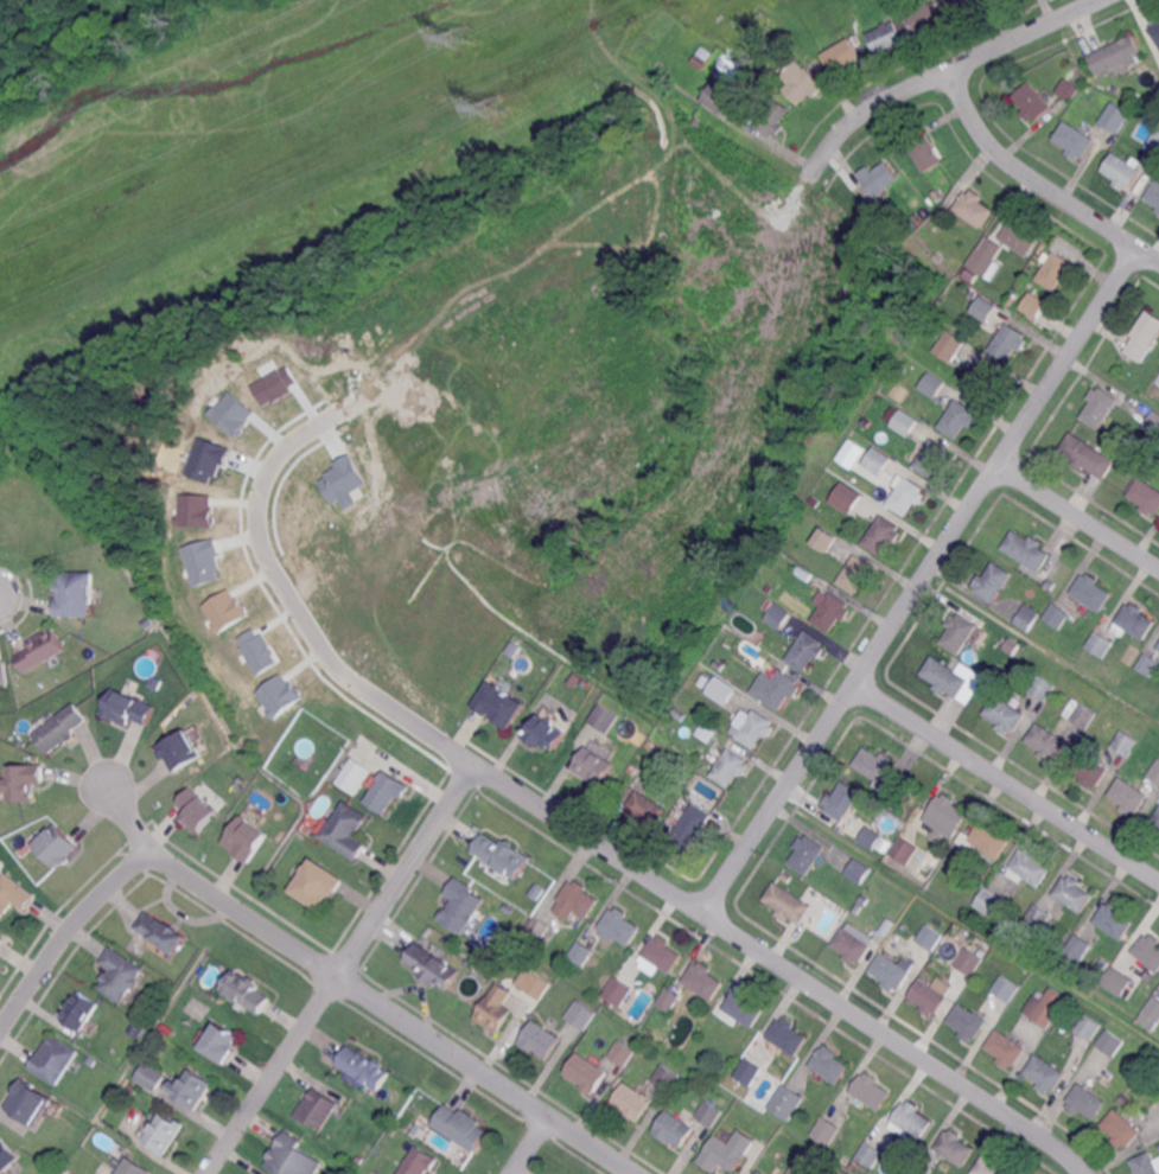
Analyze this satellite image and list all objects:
building: (973, 5)
building: (929, 17)
building: (1155, 31)
power tower: (460, 36)
building: (891, 36)
building: (757, 38)
building: (858, 39)
building: (843, 55)
building: (1154, 55)
building: (1115, 56)
building: (668, 64)
building: (764, 70)
road: (938, 75)
building: (803, 83)
building: (1069, 89)
building: (1088, 89)
building: (719, 97)
building: (1033, 102)
power tower: (495, 106)
building: (773, 117)
building: (1116, 117)
building: (1075, 140)
building: (1153, 145)
building: (925, 153)
building: (1121, 170)
building: (880, 179)
road: (1037, 180)
building: (1153, 192)
building: (937, 194)
building: (974, 208)
building: (1158, 210)
building: (917, 219)
building: (932, 231)
building: (1019, 236)
building: (937, 257)
building: (983, 267)
building: (1055, 269)
building: (1013, 299)
building: (1032, 304)
building: (985, 307)
building: (931, 321)
building: (1145, 339)
building: (1010, 342)
building: (951, 345)
building: (905, 359)
building: (985, 379)
building: (1158, 379)
building: (273, 384)
building: (932, 384)
building: (1100, 407)
building: (230, 411)
building: (959, 419)
building: (903, 421)
building: (867, 422)
building: (1153, 423)
building: (852, 449)
building: (1088, 454)
building: (204, 457)
building: (934, 458)
building: (1144, 458)
building: (878, 460)
building: (340, 478)
building: (1146, 496)
building: (848, 497)
building: (908, 497)
building: (816, 500)
building: (192, 509)
road: (1078, 516)
building: (884, 536)
building: (827, 540)
building: (1027, 549)
building: (199, 560)
building: (331, 572)
building: (804, 574)
building: (858, 574)
road: (921, 580)
building: (994, 581)
building: (803, 585)
building: (1051, 586)
building: (770, 589)
building: (1091, 593)
building: (72, 594)
road: (284, 595)
building: (223, 610)
building: (832, 610)
building: (1057, 614)
building: (779, 617)
building: (1027, 617)
building: (142, 621)
building: (1134, 623)
building: (960, 632)
building: (1101, 643)
building: (256, 649)
building: (1158, 649)
building: (807, 650)
building: (40, 651)
building: (967, 661)
building: (1148, 665)
building: (2, 671)
building: (1013, 675)
building: (945, 676)
building: (265, 682)
building: (738, 682)
building: (154, 684)
building: (585, 684)
building: (81, 688)
building: (777, 688)
building: (1043, 688)
building: (722, 689)
building: (276, 695)
building: (501, 706)
building: (127, 708)
building: (1080, 714)
building: (679, 715)
building: (1005, 715)
building: (604, 717)
building: (754, 726)
building: (61, 729)
building: (707, 732)
building: (547, 734)
building: (1046, 741)
building: (1126, 742)
building: (180, 749)
building: (380, 753)
building: (730, 766)
building: (594, 767)
building: (1089, 768)
building: (635, 770)
building: (1155, 771)
building: (883, 772)
building: (352, 774)
road: (1006, 781)
building: (23, 783)
building: (389, 793)
building: (1128, 796)
building: (842, 800)
building: (645, 809)
building: (198, 810)
building: (945, 816)
building: (1157, 818)
building: (693, 827)
building: (666, 829)
building: (349, 830)
building: (871, 837)
building: (247, 838)
building: (985, 840)
building: (885, 842)
building: (58, 846)
building: (905, 850)
building: (503, 854)
building: (807, 854)
building: (1030, 868)
building: (859, 870)
building: (787, 876)
building: (317, 882)
building: (982, 883)
building: (1074, 893)
building: (13, 895)
building: (578, 899)
building: (992, 901)
building: (461, 904)
building: (788, 904)
building: (858, 907)
building: (1038, 915)
building: (1114, 920)
building: (619, 926)
building: (539, 927)
road: (66, 932)
building: (165, 933)
building: (929, 938)
building: (1, 942)
building: (854, 943)
building: (1078, 949)
building: (1148, 951)
building: (581, 952)
building: (663, 953)
road: (766, 955)
building: (471, 963)
building: (969, 963)
building: (1103, 963)
building: (433, 964)
road: (344, 971)
building: (489, 971)
building: (892, 972)
building: (1148, 974)
building: (121, 976)
building: (703, 980)
building: (1117, 981)
building: (531, 982)
road: (354, 984)
building: (1006, 988)
building: (618, 991)
building: (247, 993)
building: (931, 995)
building: (669, 998)
building: (190, 1007)
building: (744, 1007)
building: (496, 1008)
building: (1045, 1008)
building: (82, 1010)
building: (1151, 1014)
building: (582, 1015)
building: (968, 1022)
building: (138, 1026)
building: (165, 1027)
building: (1088, 1027)
building: (788, 1035)
building: (541, 1039)
building: (222, 1041)
building: (1110, 1042)
building: (590, 1044)
building: (1006, 1048)
building: (622, 1054)
building: (57, 1059)
building: (93, 1061)
building: (830, 1064)
building: (364, 1066)
building: (749, 1071)
building: (587, 1072)
building: (1045, 1073)
building: (151, 1074)
building: (666, 1076)
building: (193, 1087)
building: (872, 1090)
building: (1125, 1099)
building: (633, 1100)
building: (787, 1100)
building: (1085, 1100)
building: (32, 1103)
building: (317, 1108)
building: (708, 1111)
building: (391, 1116)
building: (911, 1121)
building: (461, 1125)
building: (675, 1128)
building: (1121, 1129)
building: (415, 1130)
building: (164, 1131)
building: (827, 1131)
road: (529, 1144)
building: (1158, 1146)
building: (954, 1149)
building: (728, 1150)
building: (870, 1154)
building: (7, 1155)
building: (293, 1156)
building: (361, 1160)
building: (419, 1162)
building: (1145, 1163)
building: (802, 1166)
building: (133, 1167)
building: (991, 1167)
building: (911, 1170)
building: (758, 1172)
building: (762, 1172)

